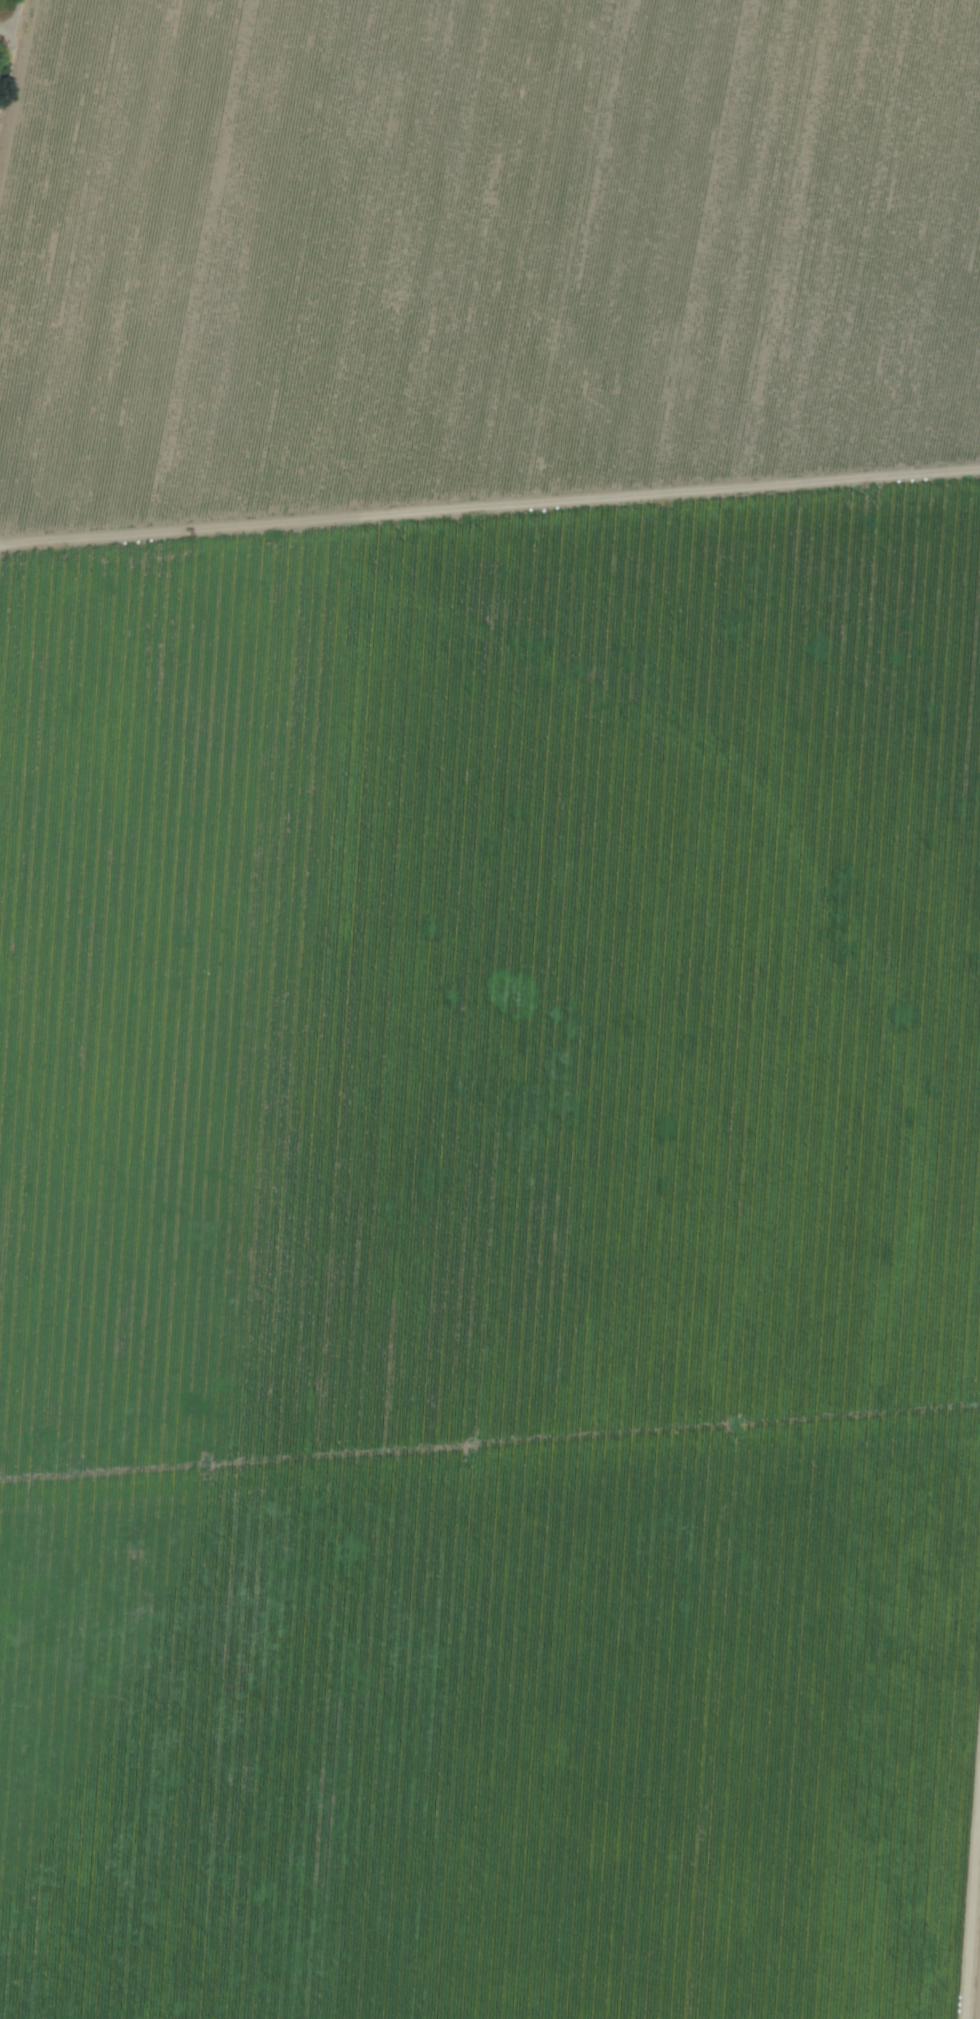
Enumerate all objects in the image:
road: (10, 20)
road: (7, 41)
road: (9, 64)
crop: (490, 1009)

